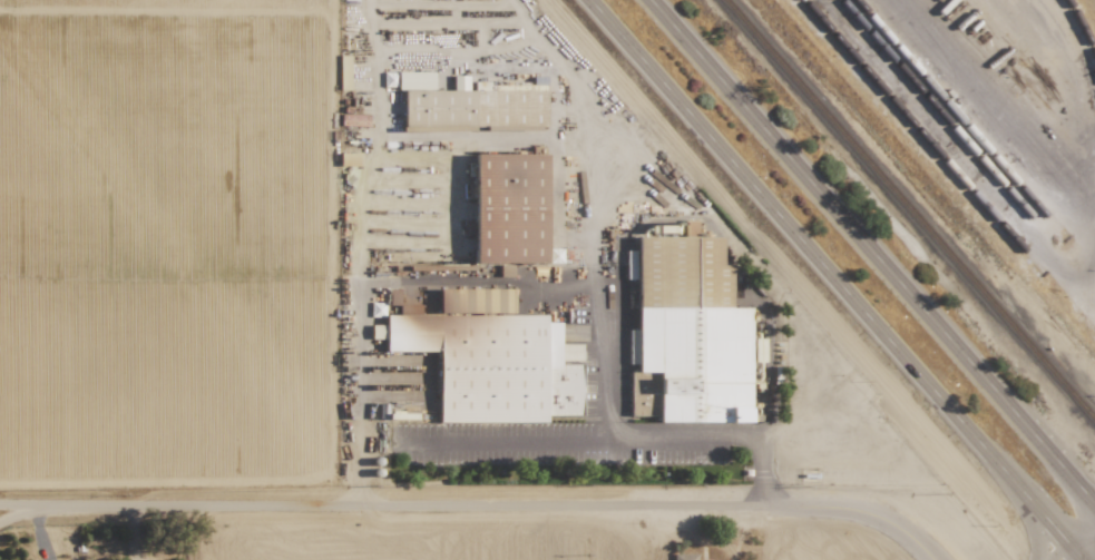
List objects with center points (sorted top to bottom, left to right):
railway: (1081, 28)
building: (414, 80)
building: (459, 81)
railway: (946, 107)
building: (475, 108)
railway: (936, 109)
railway: (941, 155)
building: (509, 208)
railway: (909, 210)
road: (872, 253)
building: (475, 272)
road: (833, 279)
road: (440, 282)
building: (687, 334)
building: (490, 357)
road: (615, 440)
road: (483, 511)
road: (1083, 540)
road: (1065, 554)
building: (684, 557)

